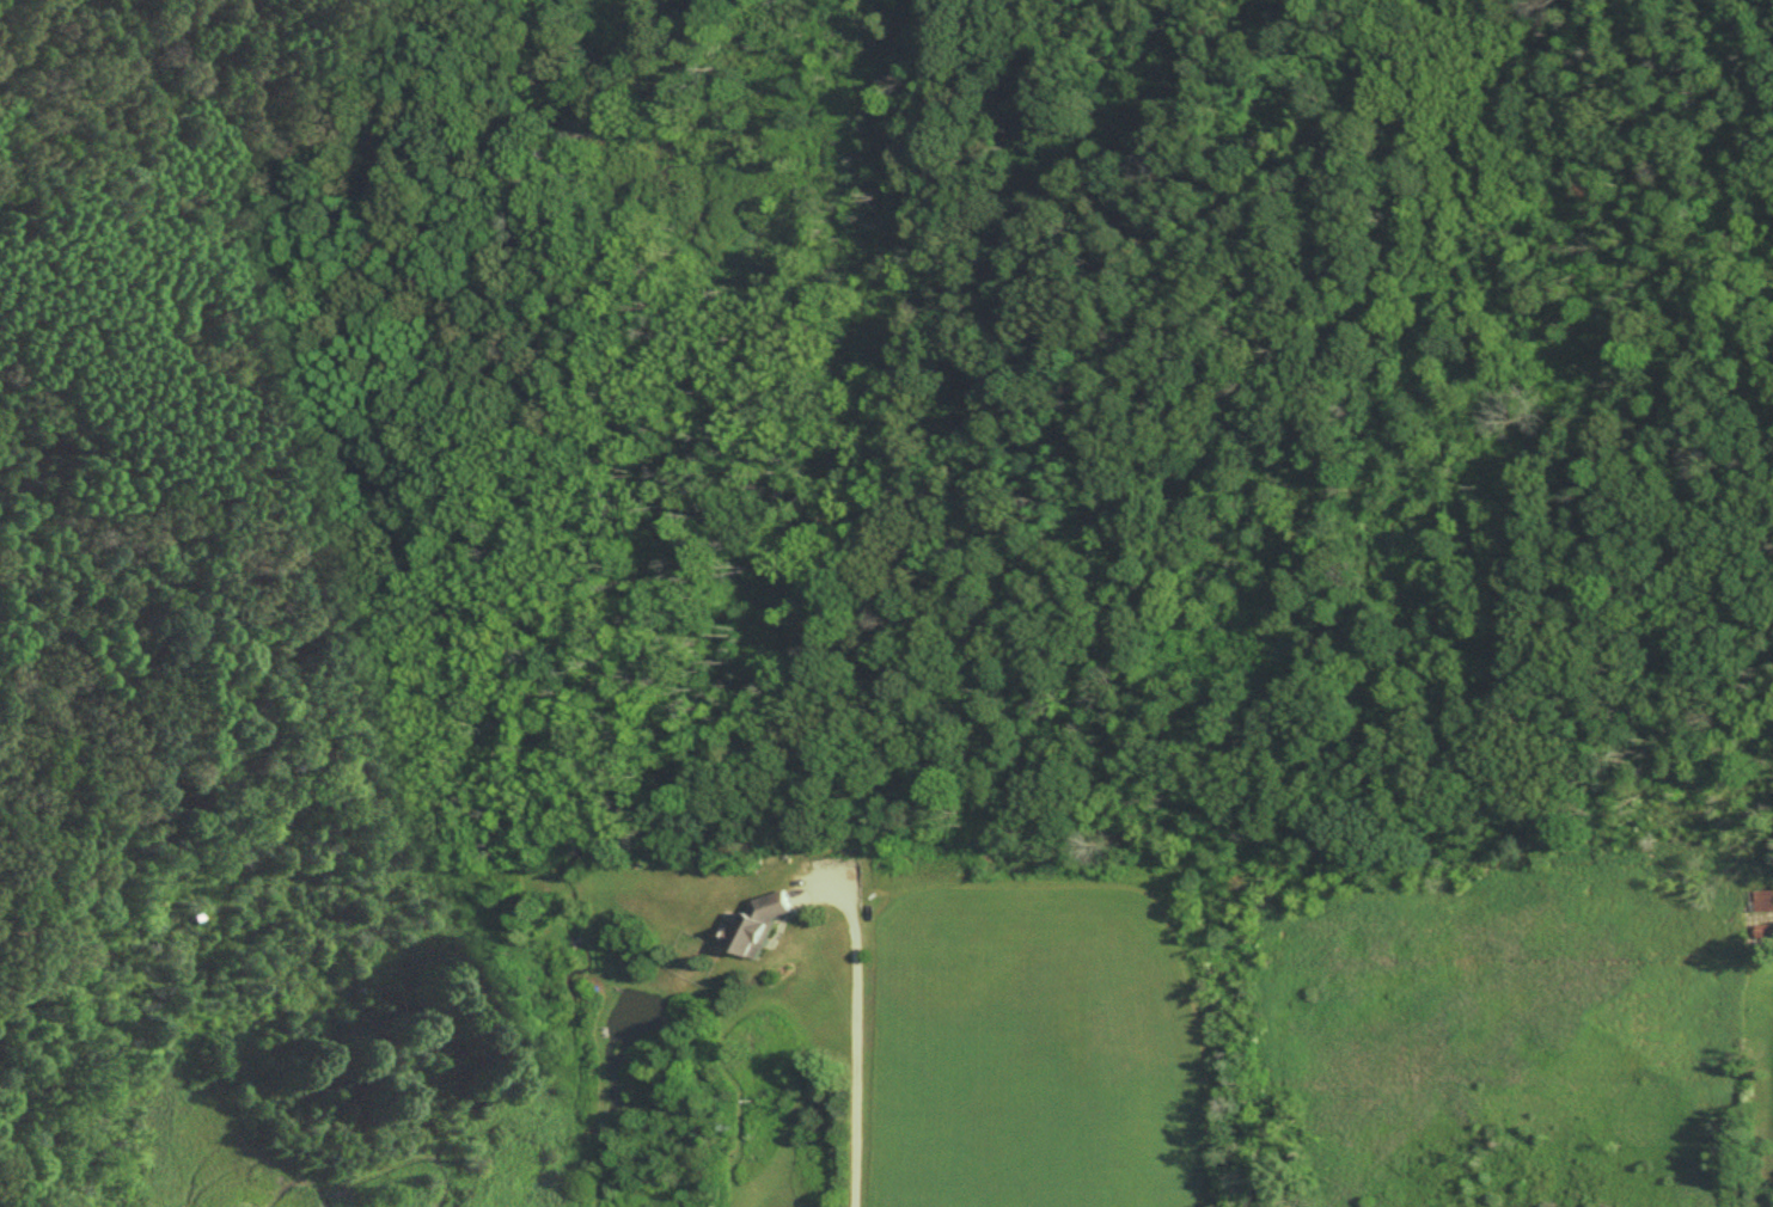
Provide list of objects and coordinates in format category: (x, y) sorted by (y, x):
building: (1760, 900)
building: (764, 924)
road: (851, 1053)

